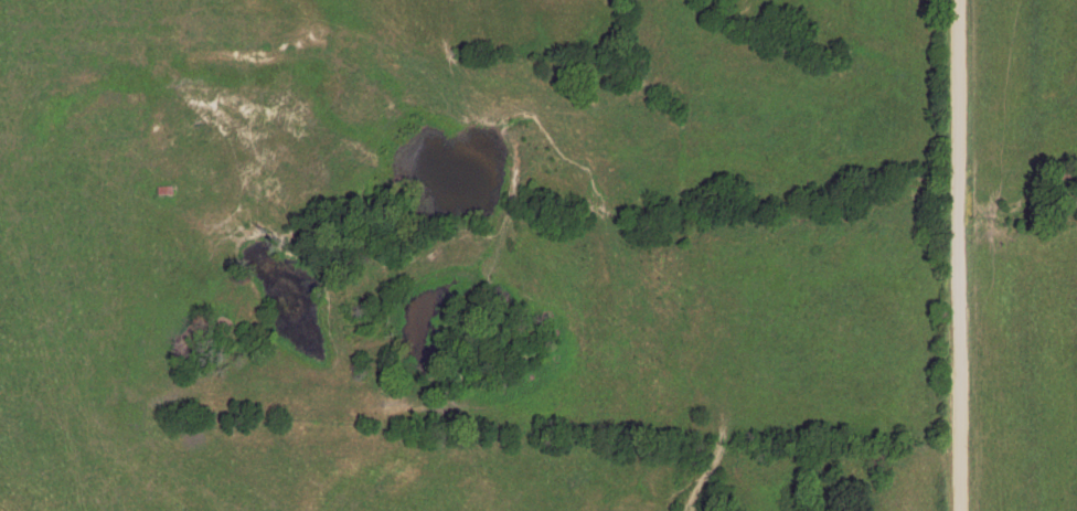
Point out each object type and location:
road: (957, 255)

